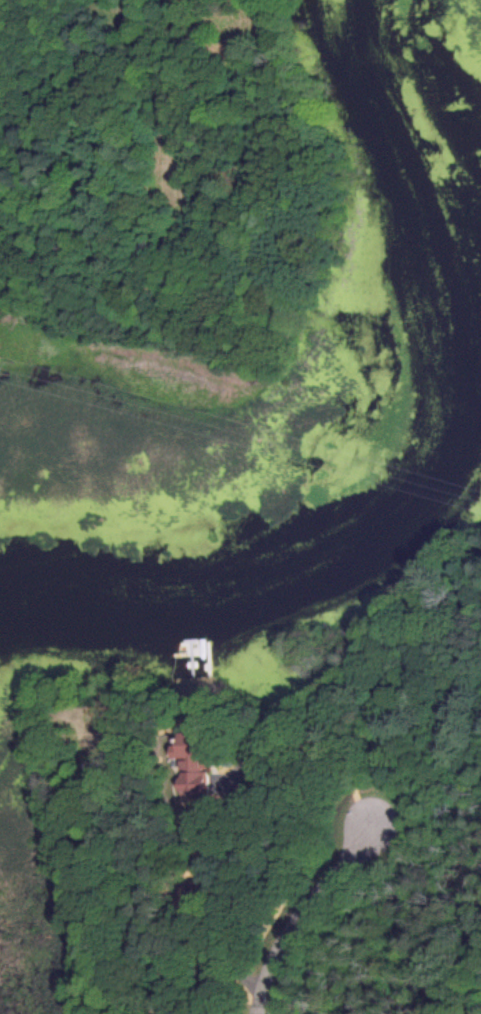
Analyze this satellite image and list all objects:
power tower: (12, 371)
river: (431, 459)
building: (188, 763)
road: (270, 862)
road: (301, 912)
park: (52, 949)

